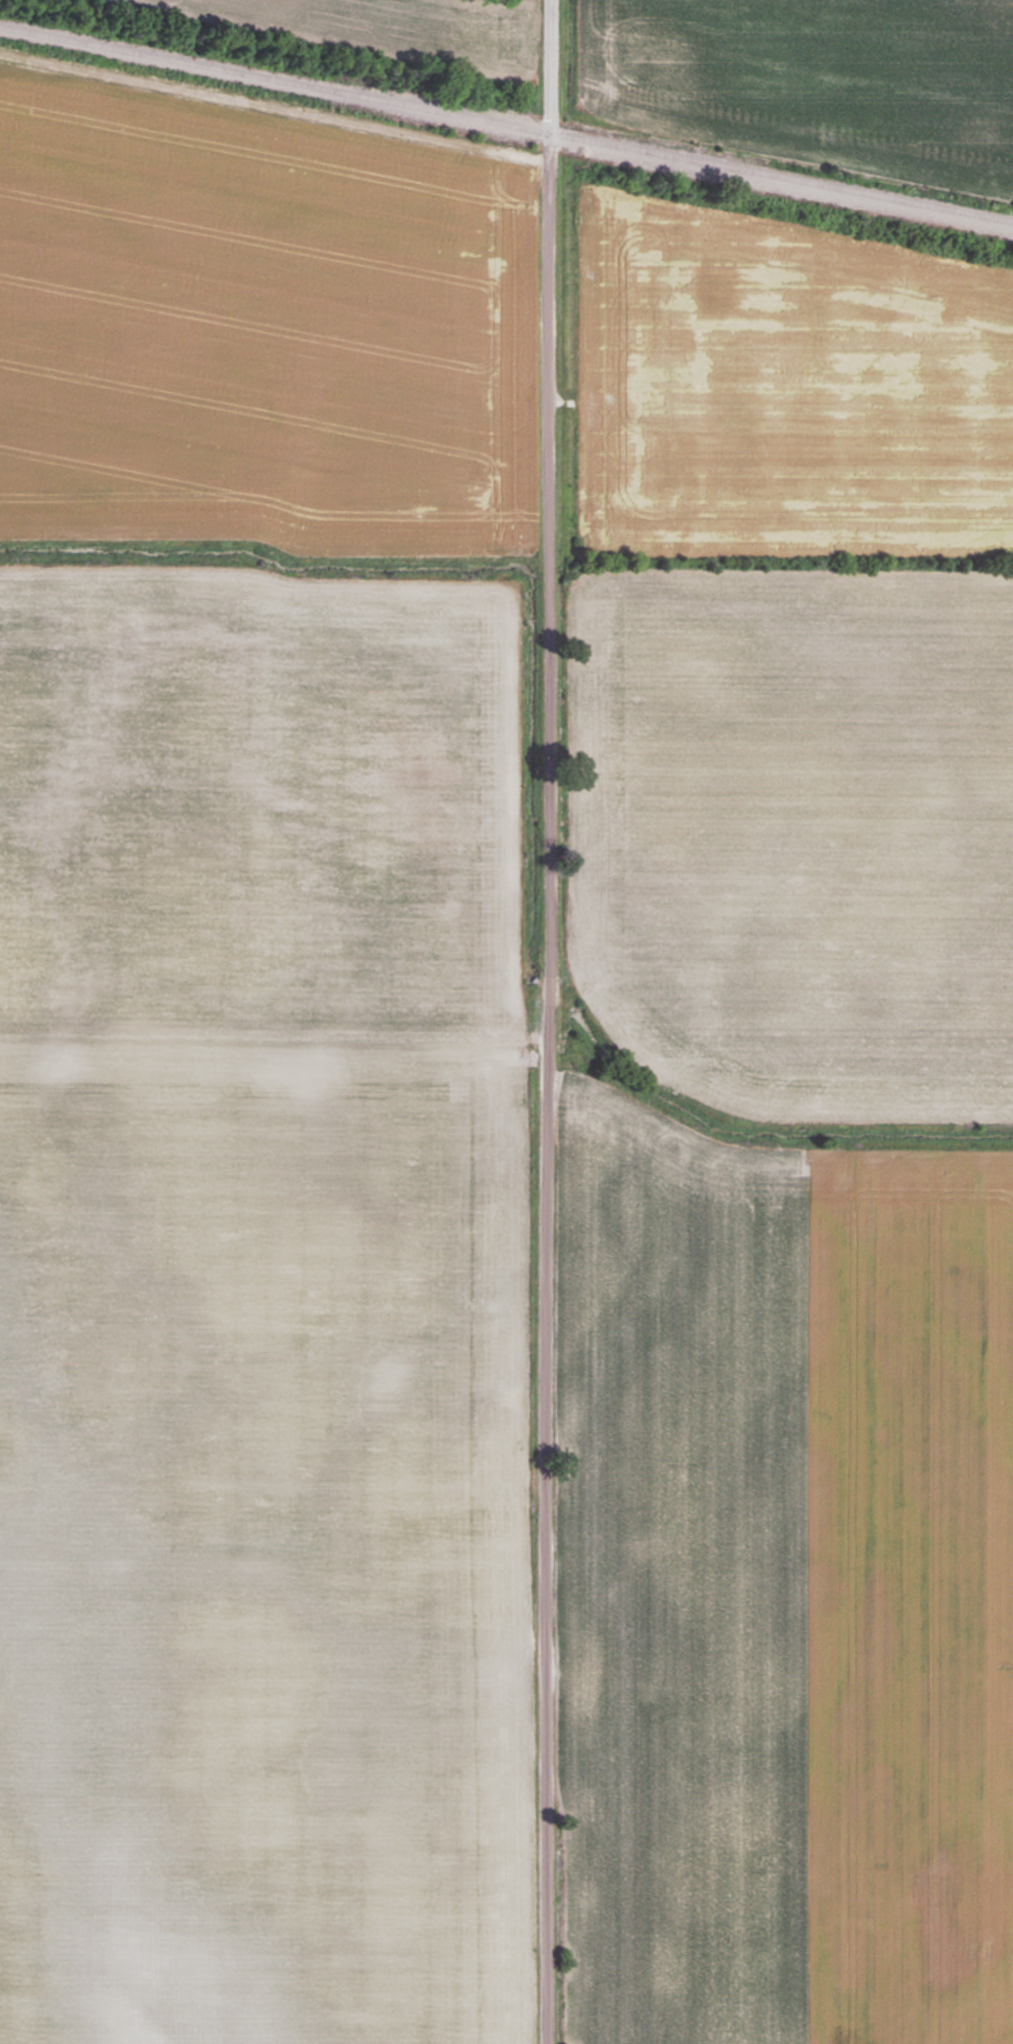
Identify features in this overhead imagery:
railway: (506, 125)
railway: (780, 186)
road: (546, 1021)

